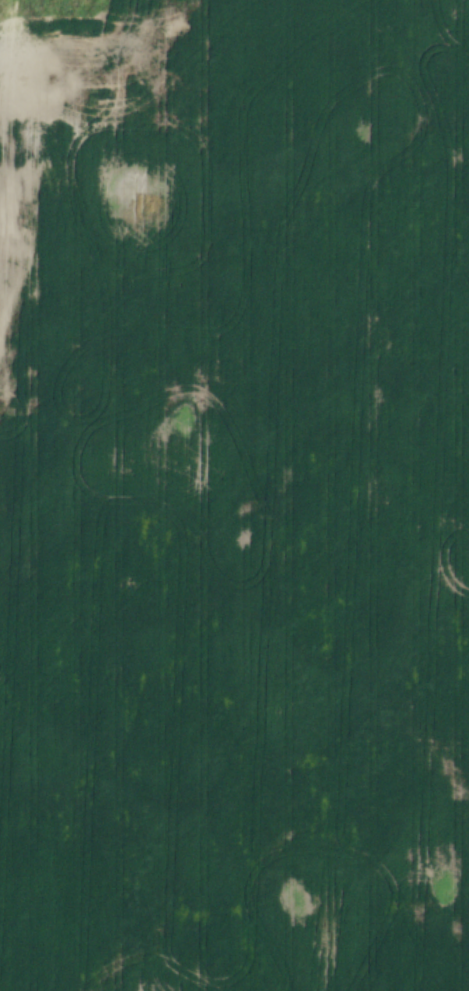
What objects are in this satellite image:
road: (1, 12)

